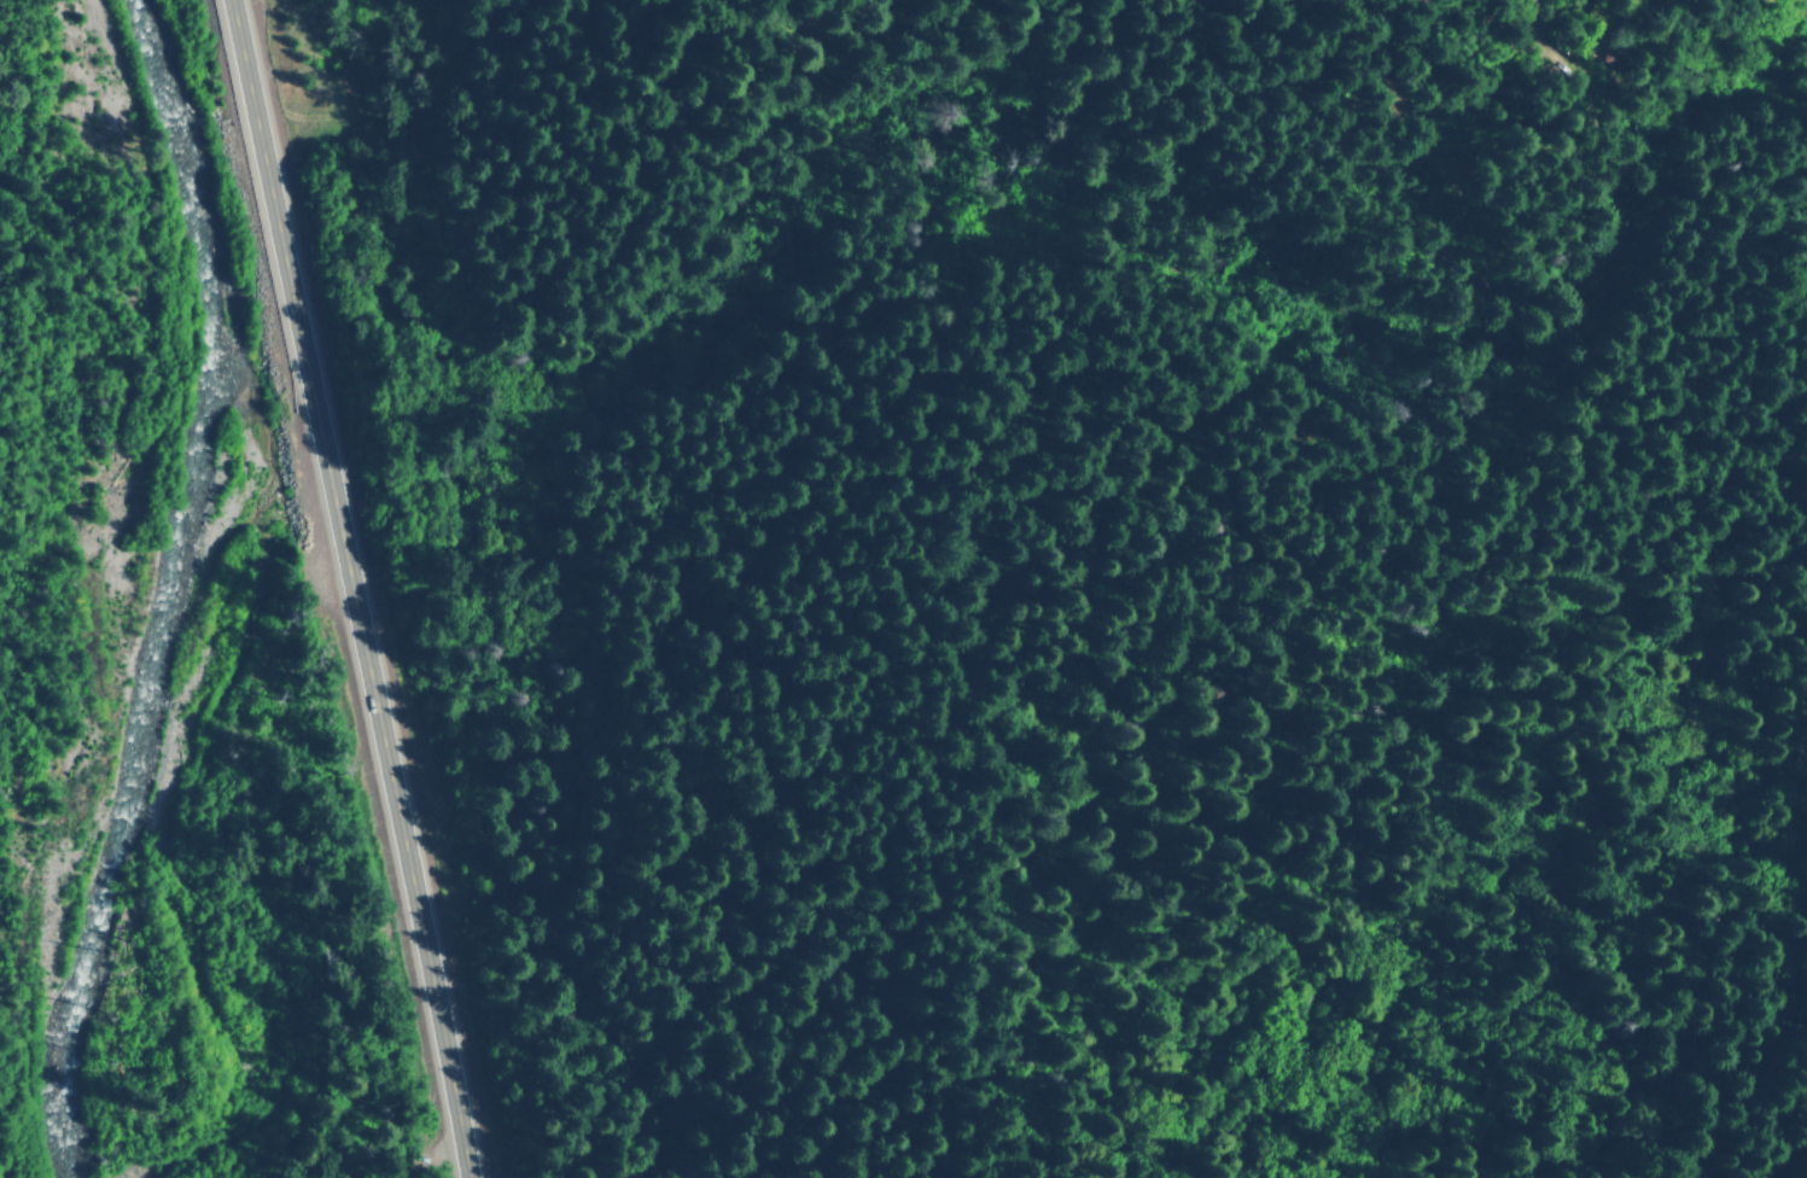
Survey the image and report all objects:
river: (173, 587)
road: (352, 589)

